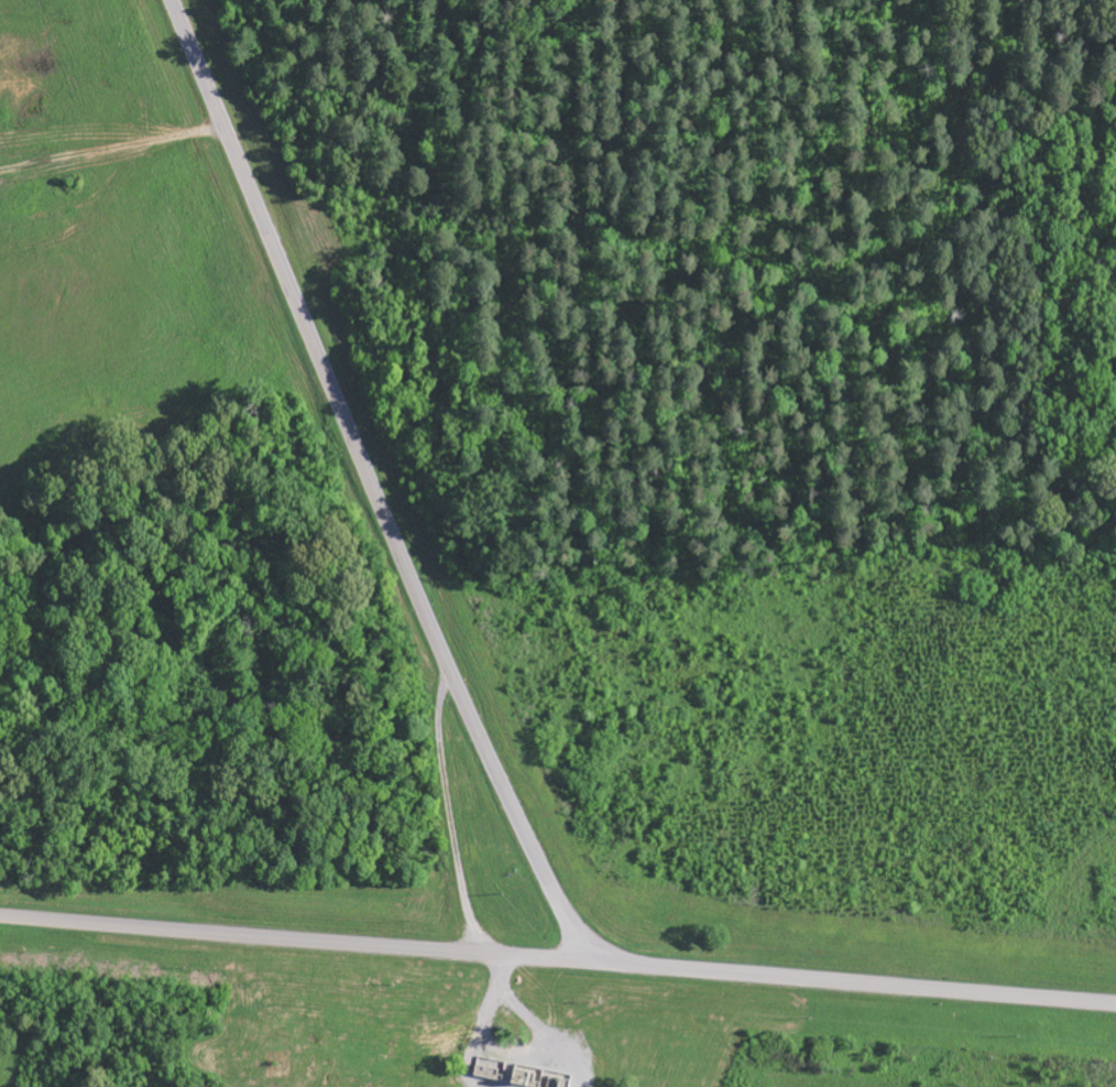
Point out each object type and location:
road: (378, 486)
road: (558, 960)

